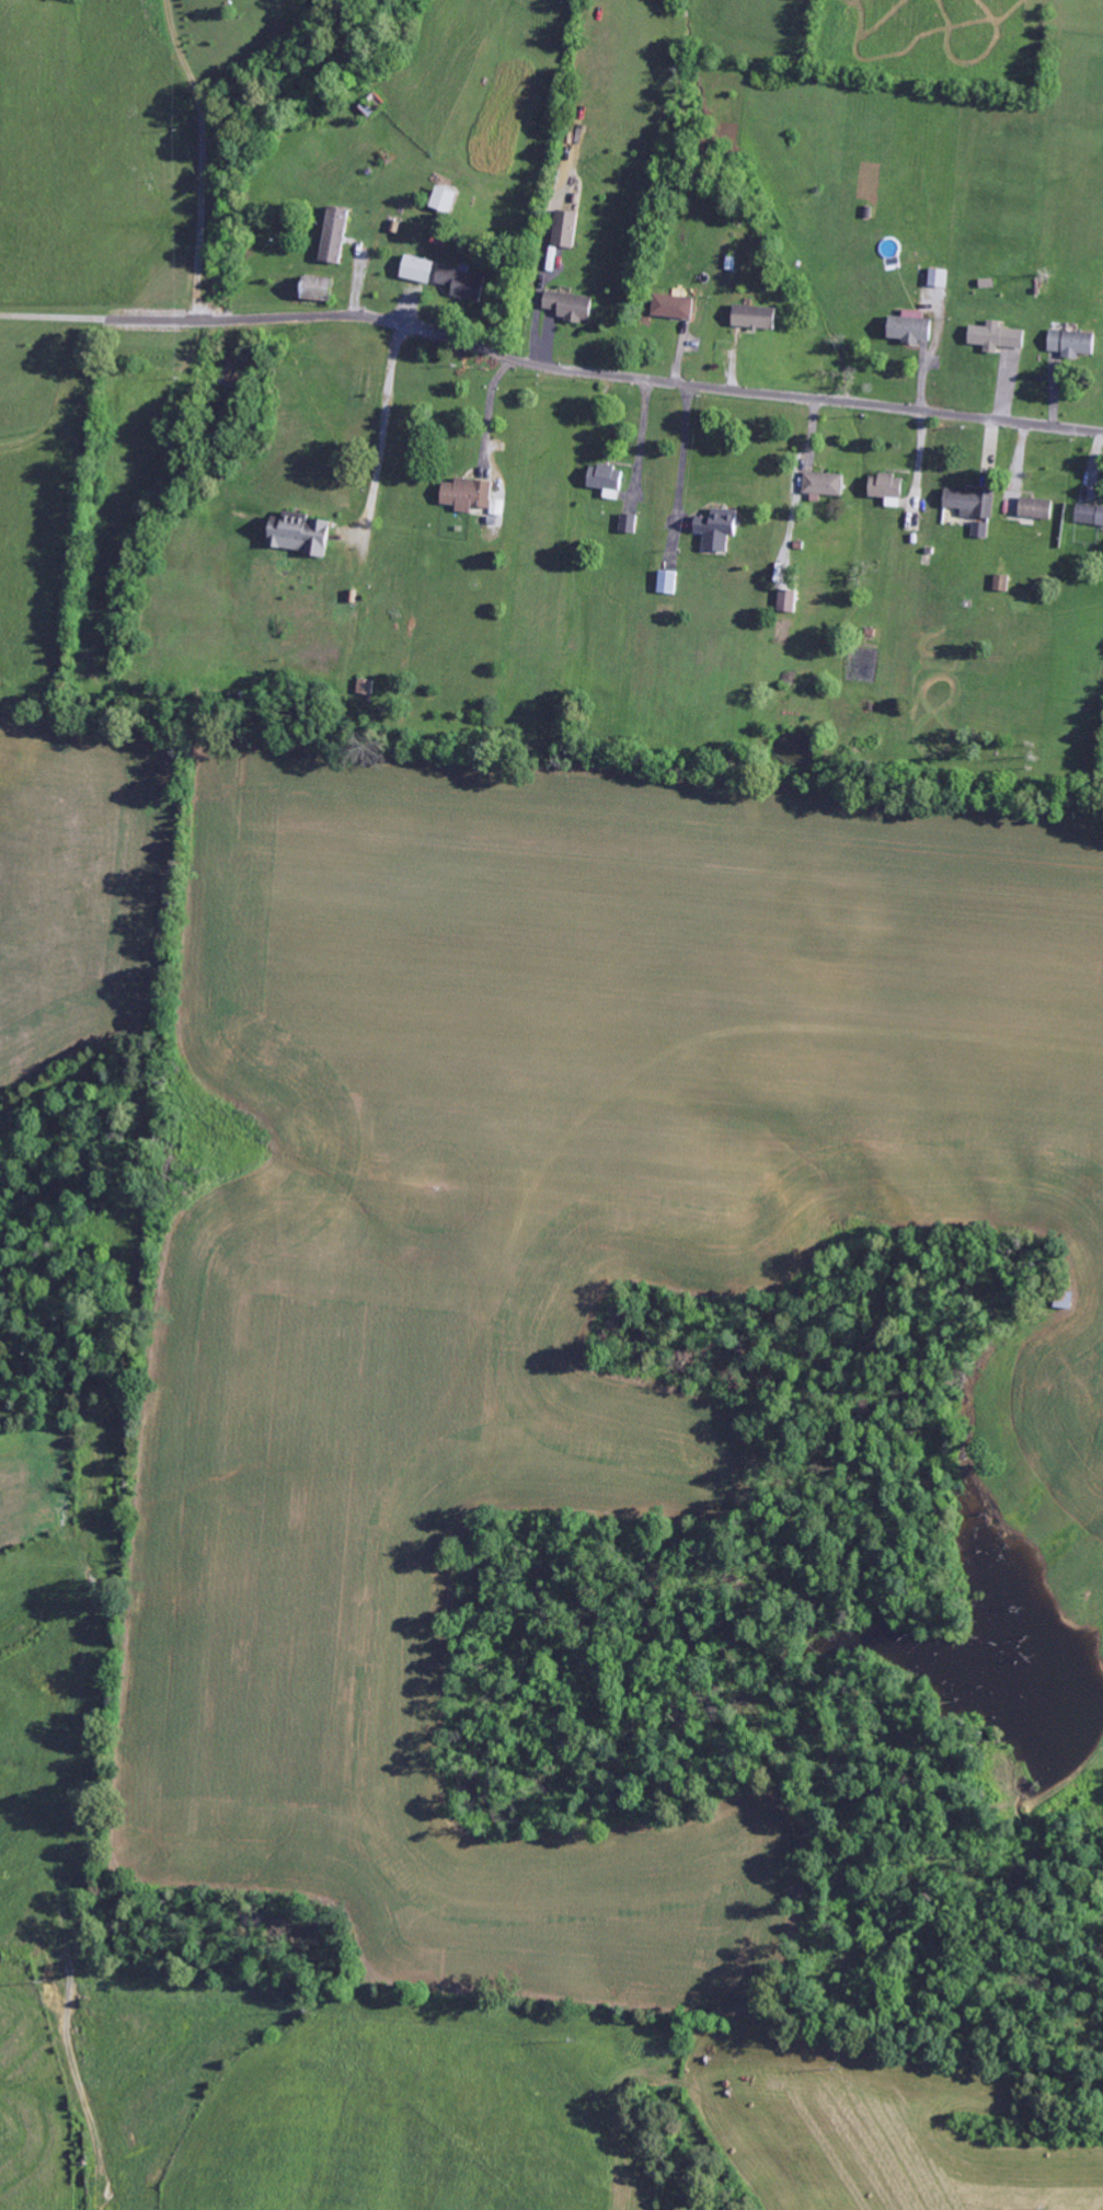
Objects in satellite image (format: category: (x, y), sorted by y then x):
building: (444, 199)
building: (566, 230)
building: (335, 235)
building: (417, 269)
building: (939, 278)
building: (462, 284)
building: (317, 289)
building: (571, 307)
building: (674, 307)
building: (755, 318)
building: (911, 329)
building: (997, 337)
building: (1073, 344)
road: (550, 368)
building: (606, 477)
building: (825, 484)
building: (886, 486)
building: (468, 495)
building: (974, 508)
building: (1037, 509)
building: (1090, 515)
building: (719, 529)
building: (300, 537)
building: (789, 602)

